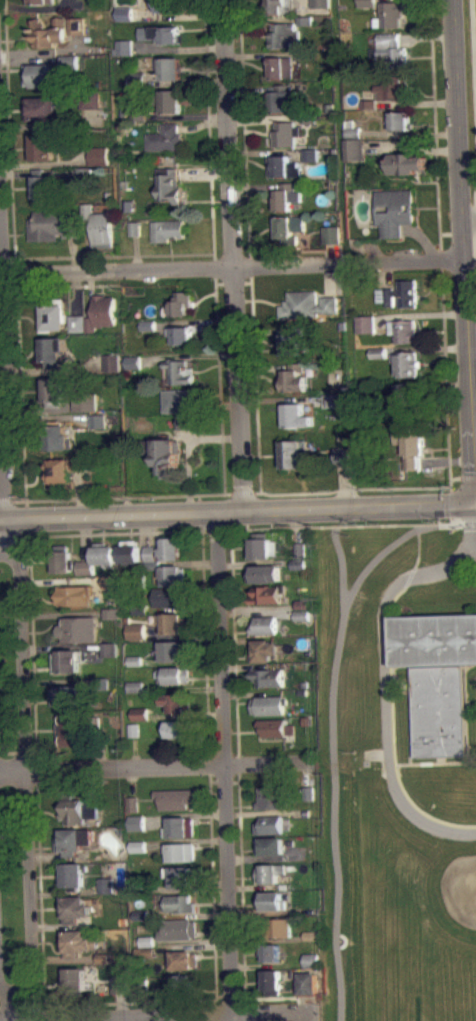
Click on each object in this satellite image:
building: (41, 1)
building: (367, 3)
building: (321, 4)
building: (166, 5)
building: (280, 7)
building: (123, 13)
building: (391, 14)
building: (305, 20)
building: (124, 21)
building: (75, 25)
building: (49, 32)
building: (160, 33)
building: (284, 35)
building: (162, 41)
road: (474, 41)
building: (122, 47)
building: (390, 51)
building: (124, 54)
building: (307, 54)
building: (69, 61)
building: (70, 67)
building: (281, 67)
building: (170, 68)
building: (41, 75)
building: (137, 79)
building: (393, 85)
building: (138, 86)
building: (168, 99)
building: (286, 99)
building: (91, 100)
building: (370, 103)
building: (42, 108)
building: (138, 113)
building: (309, 118)
building: (399, 120)
road: (435, 124)
building: (352, 128)
road: (209, 133)
road: (244, 133)
building: (286, 133)
building: (166, 138)
road: (10, 144)
building: (45, 146)
building: (354, 148)
building: (311, 154)
building: (100, 155)
building: (310, 162)
building: (404, 163)
building: (101, 164)
building: (283, 167)
building: (85, 174)
building: (84, 183)
building: (170, 185)
building: (43, 186)
building: (287, 196)
building: (130, 205)
building: (394, 210)
road: (469, 218)
building: (54, 224)
building: (100, 226)
building: (135, 228)
building: (167, 229)
building: (285, 232)
building: (331, 234)
road: (458, 234)
building: (136, 236)
road: (475, 249)
road: (462, 250)
road: (475, 251)
road: (231, 254)
road: (106, 256)
road: (440, 258)
road: (231, 268)
road: (233, 282)
road: (8, 288)
building: (400, 293)
building: (181, 303)
building: (308, 305)
building: (104, 310)
building: (52, 316)
road: (7, 317)
building: (77, 322)
building: (90, 324)
building: (148, 324)
building: (365, 324)
building: (404, 330)
building: (181, 334)
road: (18, 342)
building: (182, 342)
building: (292, 343)
building: (53, 350)
building: (379, 352)
building: (378, 360)
building: (111, 361)
building: (132, 361)
building: (406, 363)
building: (133, 369)
building: (179, 371)
road: (445, 376)
road: (218, 380)
building: (294, 381)
road: (255, 383)
building: (52, 389)
building: (407, 394)
building: (178, 399)
building: (335, 400)
building: (334, 407)
building: (85, 411)
building: (295, 415)
building: (97, 420)
building: (187, 420)
building: (98, 428)
building: (57, 437)
building: (413, 450)
building: (293, 453)
building: (341, 454)
building: (168, 456)
building: (63, 470)
road: (0, 476)
road: (467, 476)
road: (455, 477)
road: (356, 489)
road: (241, 492)
road: (120, 496)
traffic signals: (473, 500)
road: (474, 500)
road: (5, 501)
road: (451, 502)
road: (1, 509)
road: (236, 509)
road: (451, 519)
road: (468, 522)
road: (419, 523)
road: (323, 526)
road: (214, 530)
road: (116, 533)
road: (6, 537)
road: (1, 543)
building: (262, 546)
building: (170, 548)
building: (299, 549)
building: (129, 551)
building: (150, 552)
road: (475, 552)
building: (104, 553)
building: (299, 557)
building: (63, 561)
building: (297, 564)
building: (152, 565)
building: (85, 567)
road: (341, 571)
building: (85, 574)
building: (173, 574)
building: (263, 574)
road: (410, 575)
building: (110, 581)
building: (110, 589)
building: (74, 594)
building: (266, 594)
building: (170, 597)
building: (301, 604)
building: (140, 608)
building: (112, 612)
building: (301, 615)
building: (173, 622)
building: (264, 625)
building: (78, 629)
building: (136, 630)
road: (234, 640)
road: (205, 643)
building: (108, 649)
building: (174, 650)
building: (263, 650)
building: (108, 656)
building: (68, 660)
building: (134, 660)
road: (384, 666)
building: (173, 675)
building: (268, 677)
building: (437, 677)
building: (135, 686)
road: (411, 688)
building: (135, 693)
building: (65, 695)
building: (175, 701)
building: (268, 705)
road: (408, 711)
building: (140, 713)
building: (139, 721)
building: (71, 722)
building: (272, 727)
building: (176, 728)
road: (393, 728)
building: (133, 729)
building: (178, 736)
road: (333, 757)
road: (442, 759)
road: (437, 762)
road: (238, 763)
road: (35, 764)
road: (209, 764)
road: (226, 765)
road: (153, 766)
road: (24, 768)
road: (209, 780)
road: (223, 781)
road: (234, 781)
building: (274, 797)
building: (175, 798)
building: (133, 803)
building: (77, 809)
building: (307, 812)
building: (136, 822)
building: (270, 824)
building: (181, 826)
building: (137, 830)
building: (74, 840)
building: (137, 845)
building: (269, 845)
building: (181, 851)
building: (138, 853)
building: (270, 872)
building: (74, 875)
building: (181, 875)
building: (270, 880)
building: (106, 884)
building: (139, 886)
road: (241, 888)
park: (461, 889)
road: (212, 890)
building: (106, 892)
building: (271, 900)
building: (180, 903)
building: (76, 908)
building: (140, 914)
building: (280, 927)
building: (178, 929)
building: (312, 935)
building: (147, 941)
building: (80, 942)
building: (270, 951)
building: (144, 952)
building: (103, 958)
building: (184, 959)
building: (312, 959)
building: (272, 960)
building: (312, 967)
building: (77, 979)
building: (273, 980)
building: (143, 982)
building: (308, 983)
building: (119, 984)
building: (179, 984)
road: (7, 988)
road: (242, 995)
road: (218, 996)
road: (230, 996)
road: (272, 998)
road: (214, 1001)
road: (128, 1002)
road: (34, 1005)
road: (13, 1007)
road: (15, 1008)
road: (214, 1012)
road: (248, 1012)
road: (43, 1015)
road: (198, 1018)

